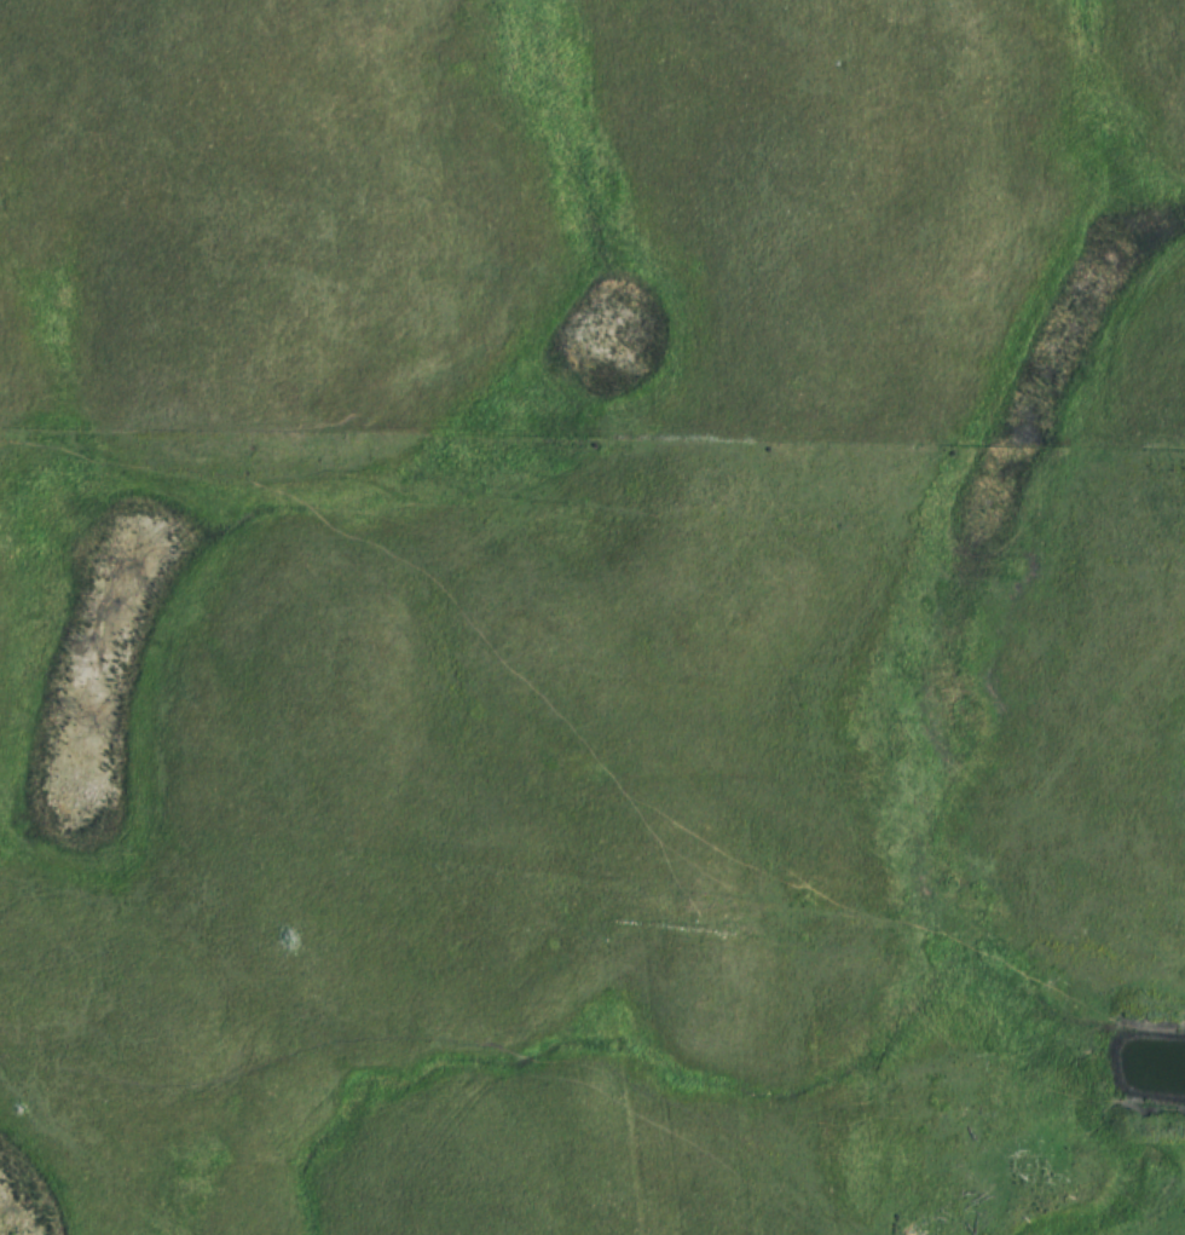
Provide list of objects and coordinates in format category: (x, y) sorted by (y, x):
river: (1157, 1120)

